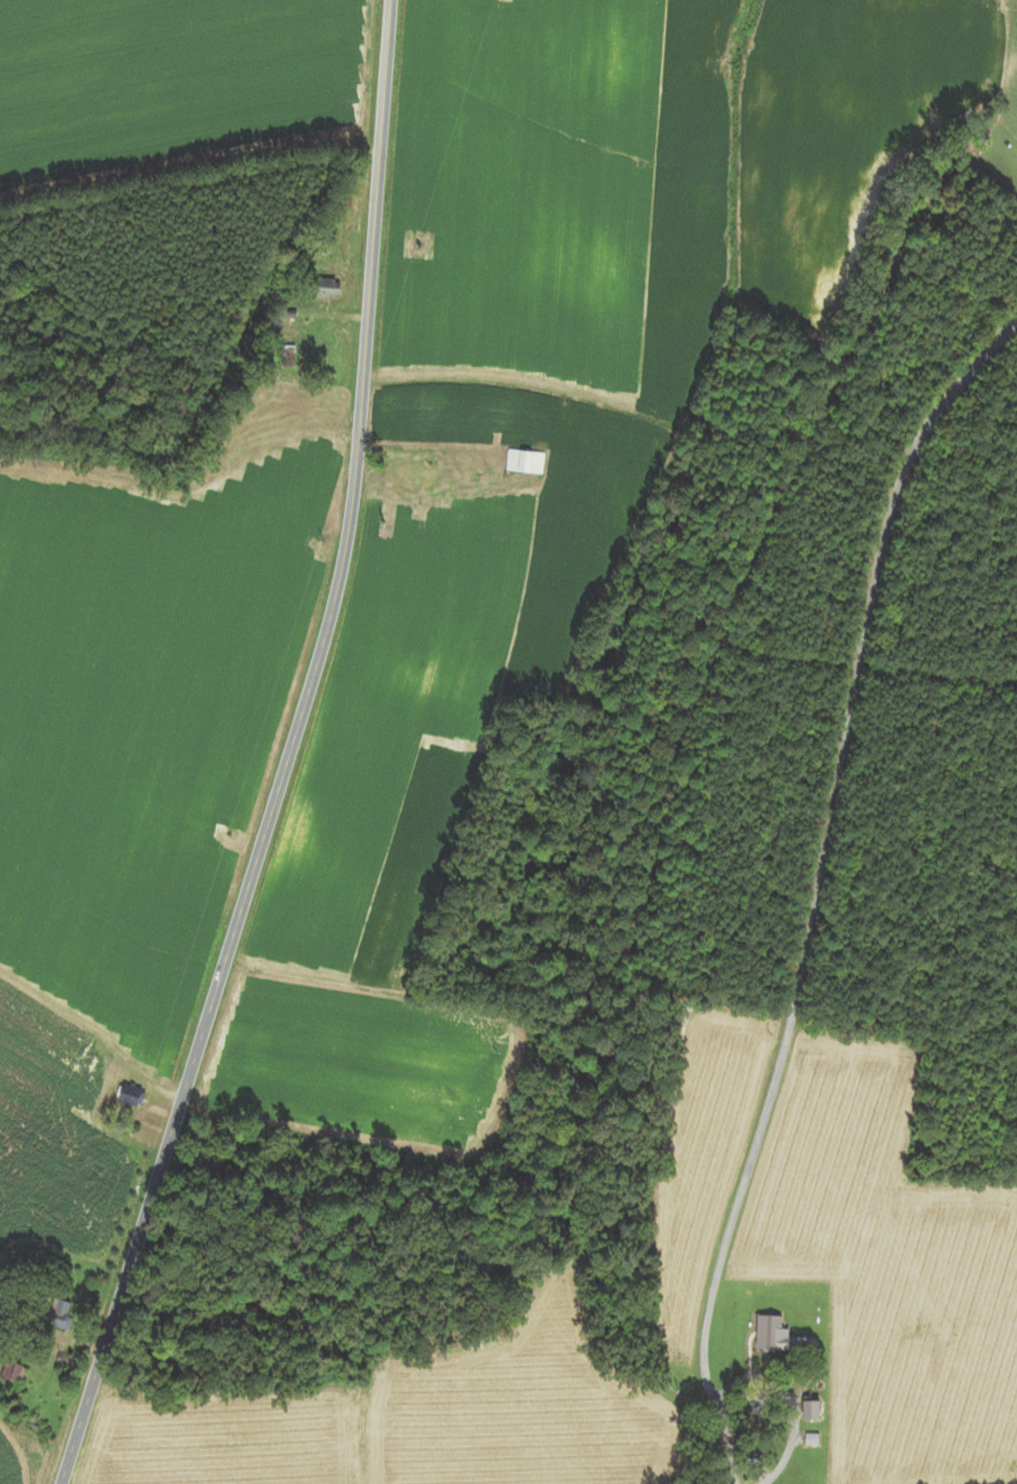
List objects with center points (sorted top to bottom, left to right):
building: (322, 289)
building: (284, 357)
building: (524, 462)
road: (285, 753)
building: (129, 1100)
building: (49, 1314)
building: (772, 1335)
building: (8, 1370)
road: (754, 1395)
building: (811, 1411)

